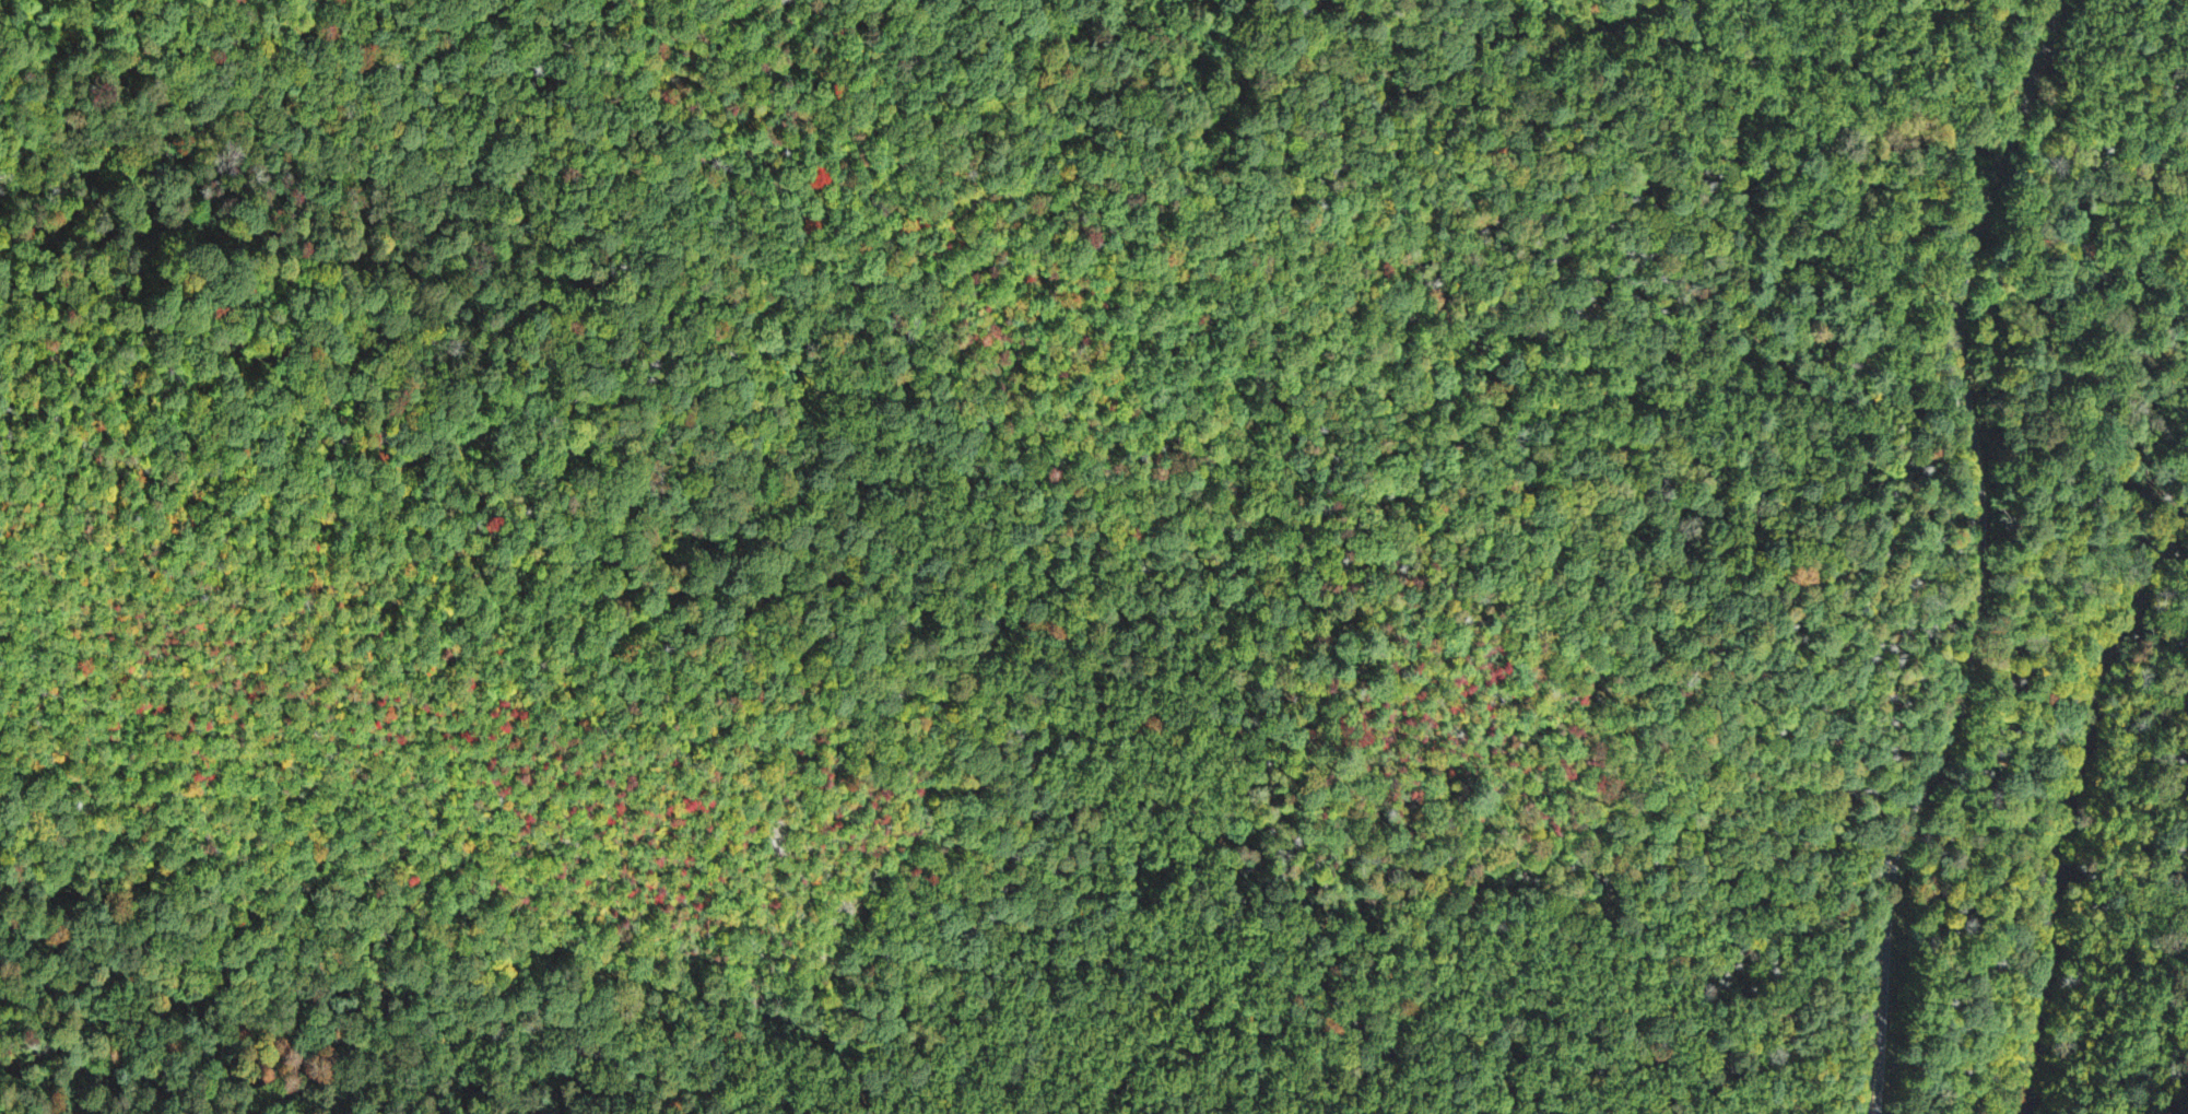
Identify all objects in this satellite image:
road: (1978, 555)
river: (2151, 556)
river: (2055, 865)

